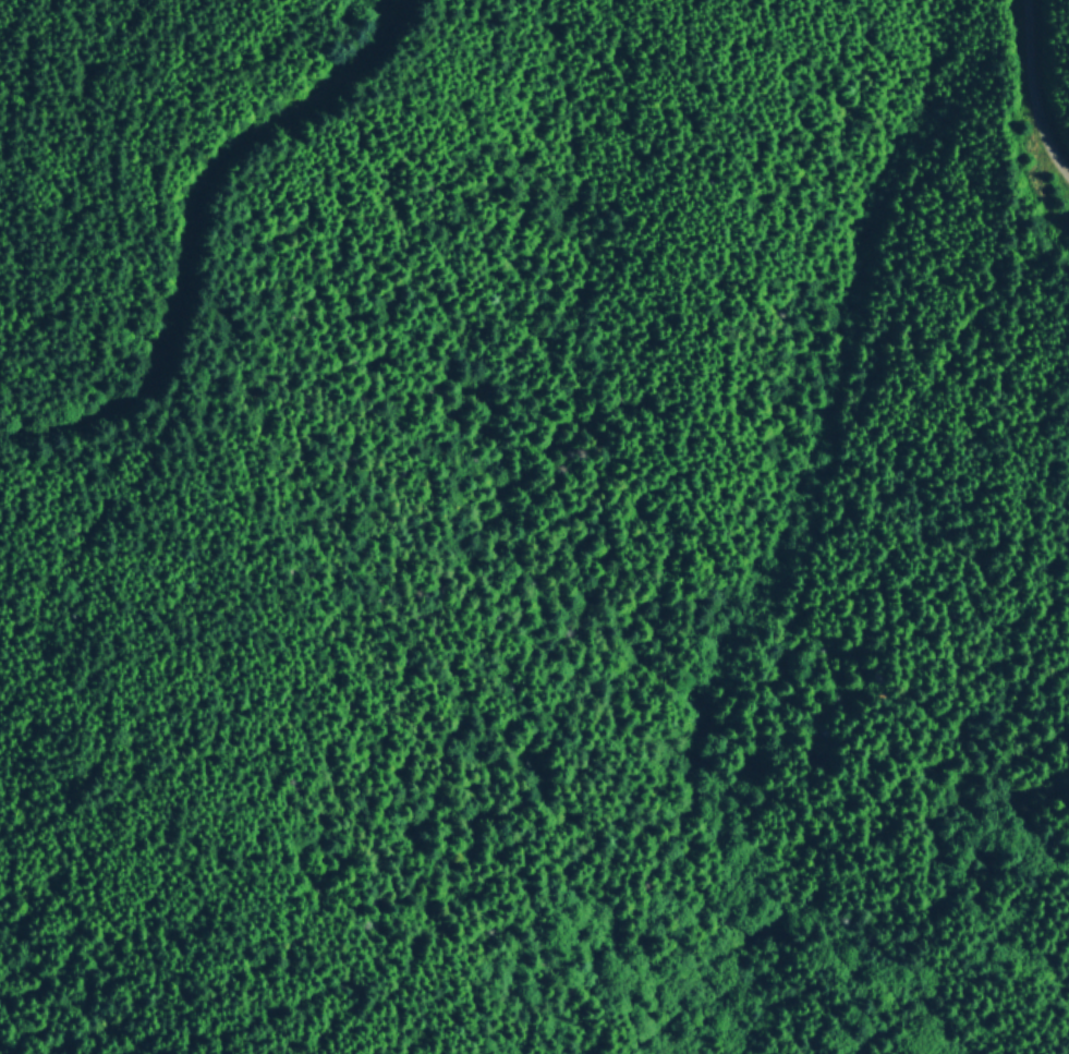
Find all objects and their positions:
road: (1037, 89)
road: (194, 226)

